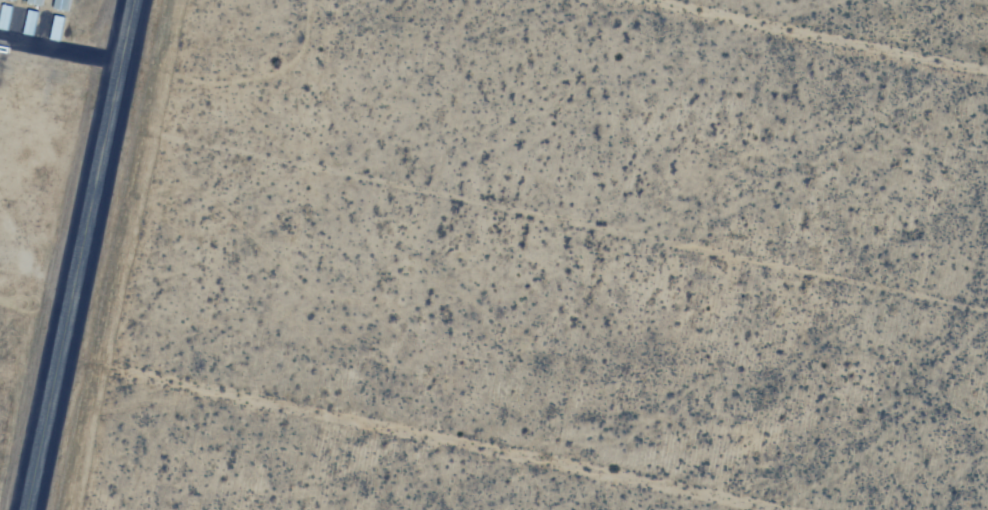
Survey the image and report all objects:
road: (60, 54)
airport: (73, 211)
airport taxiway: (80, 254)

